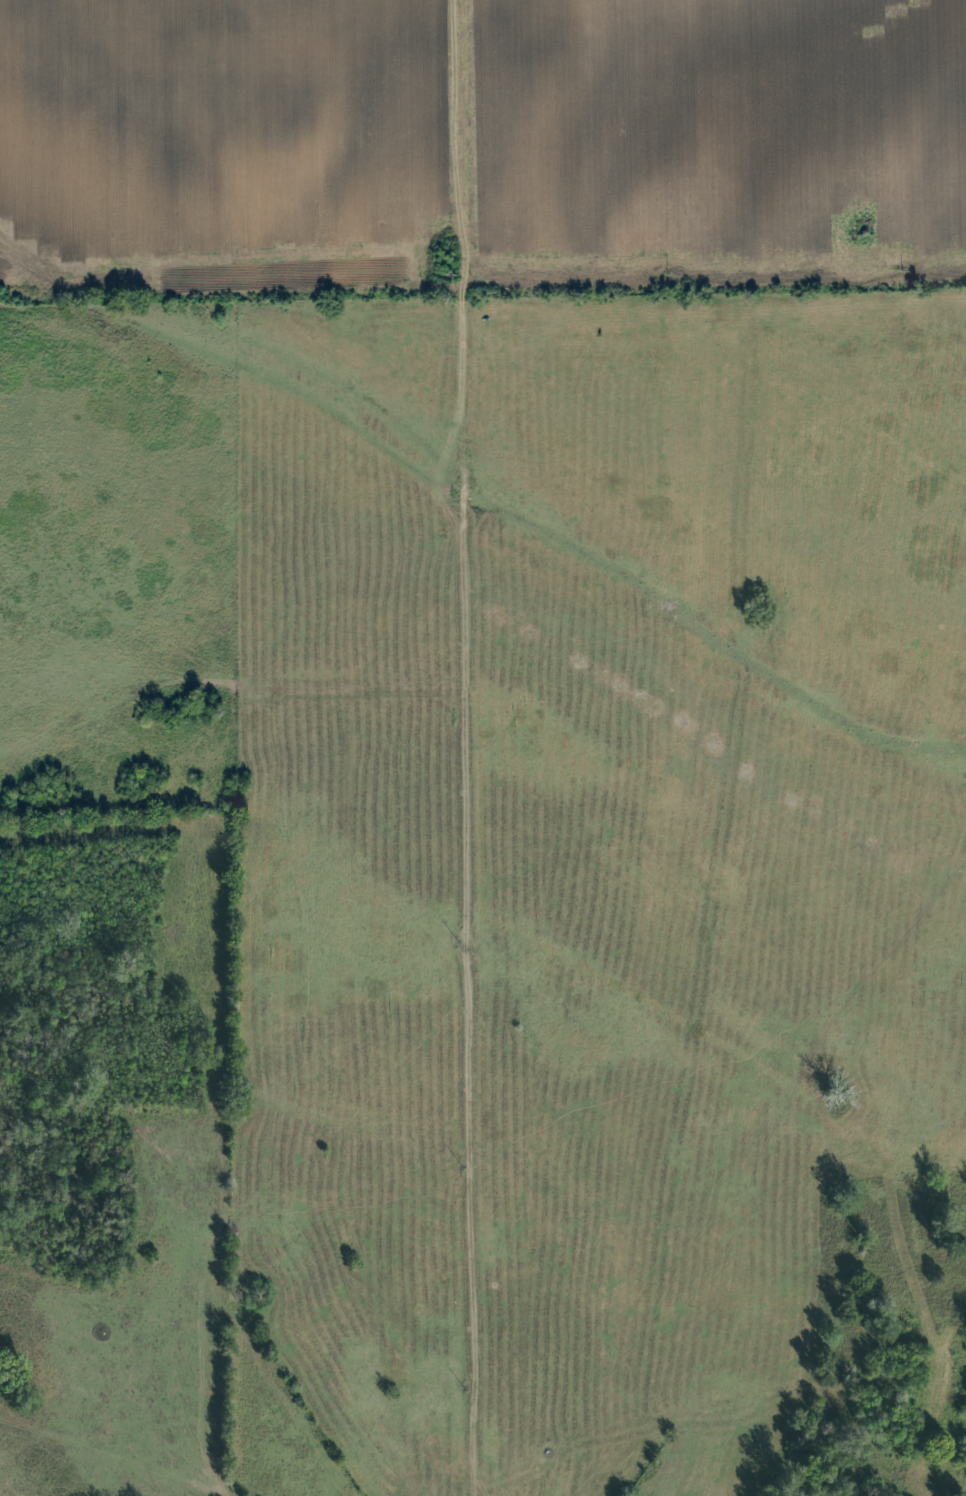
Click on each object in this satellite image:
road: (482, 284)
road: (473, 748)

